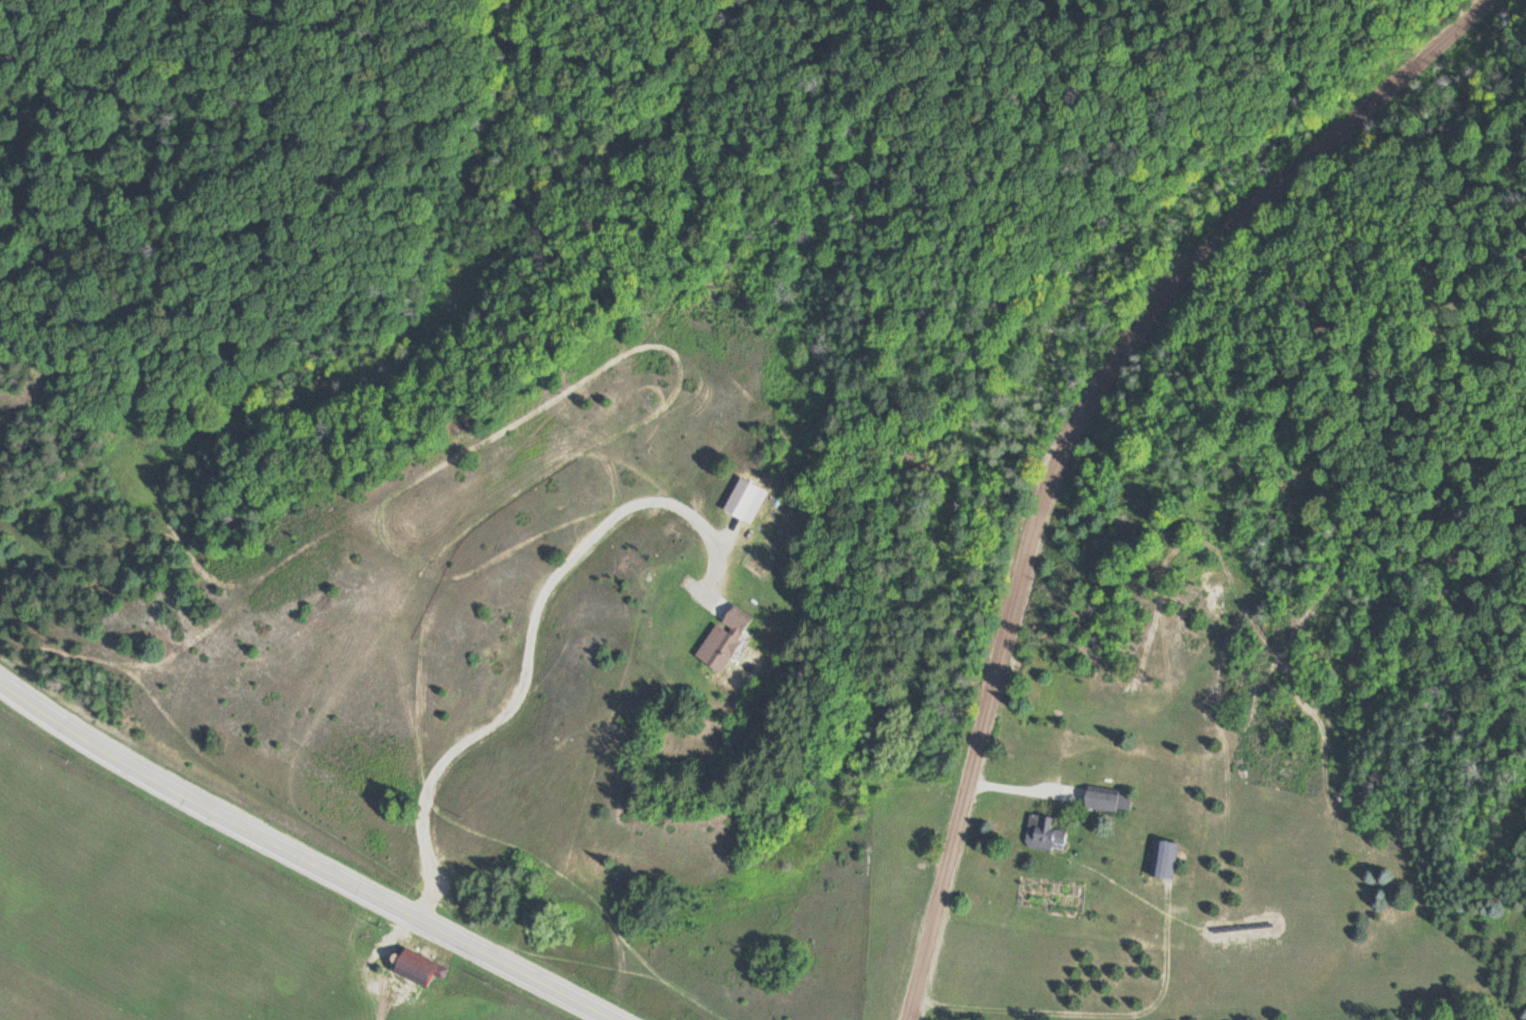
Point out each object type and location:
road: (1070, 438)
building: (720, 637)
building: (1103, 798)
building: (1041, 833)
road: (303, 858)
building: (1159, 859)
building: (401, 968)

